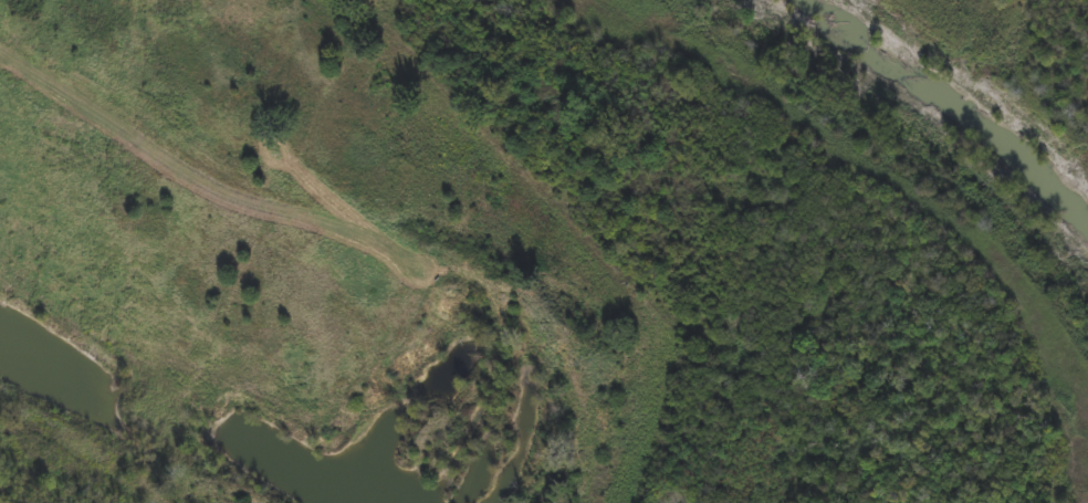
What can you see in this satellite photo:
river: (946, 112)

